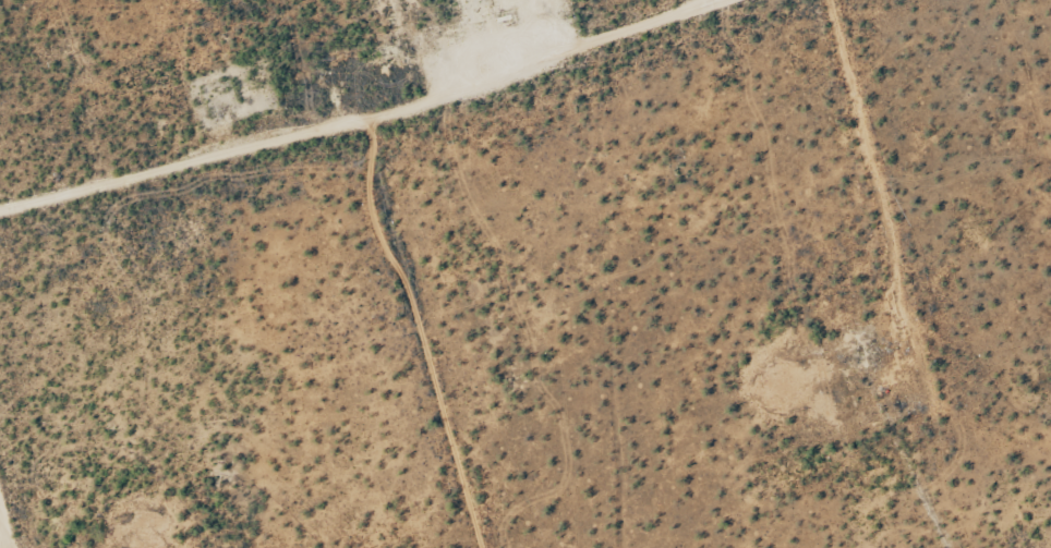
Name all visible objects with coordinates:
road: (3, 531)

